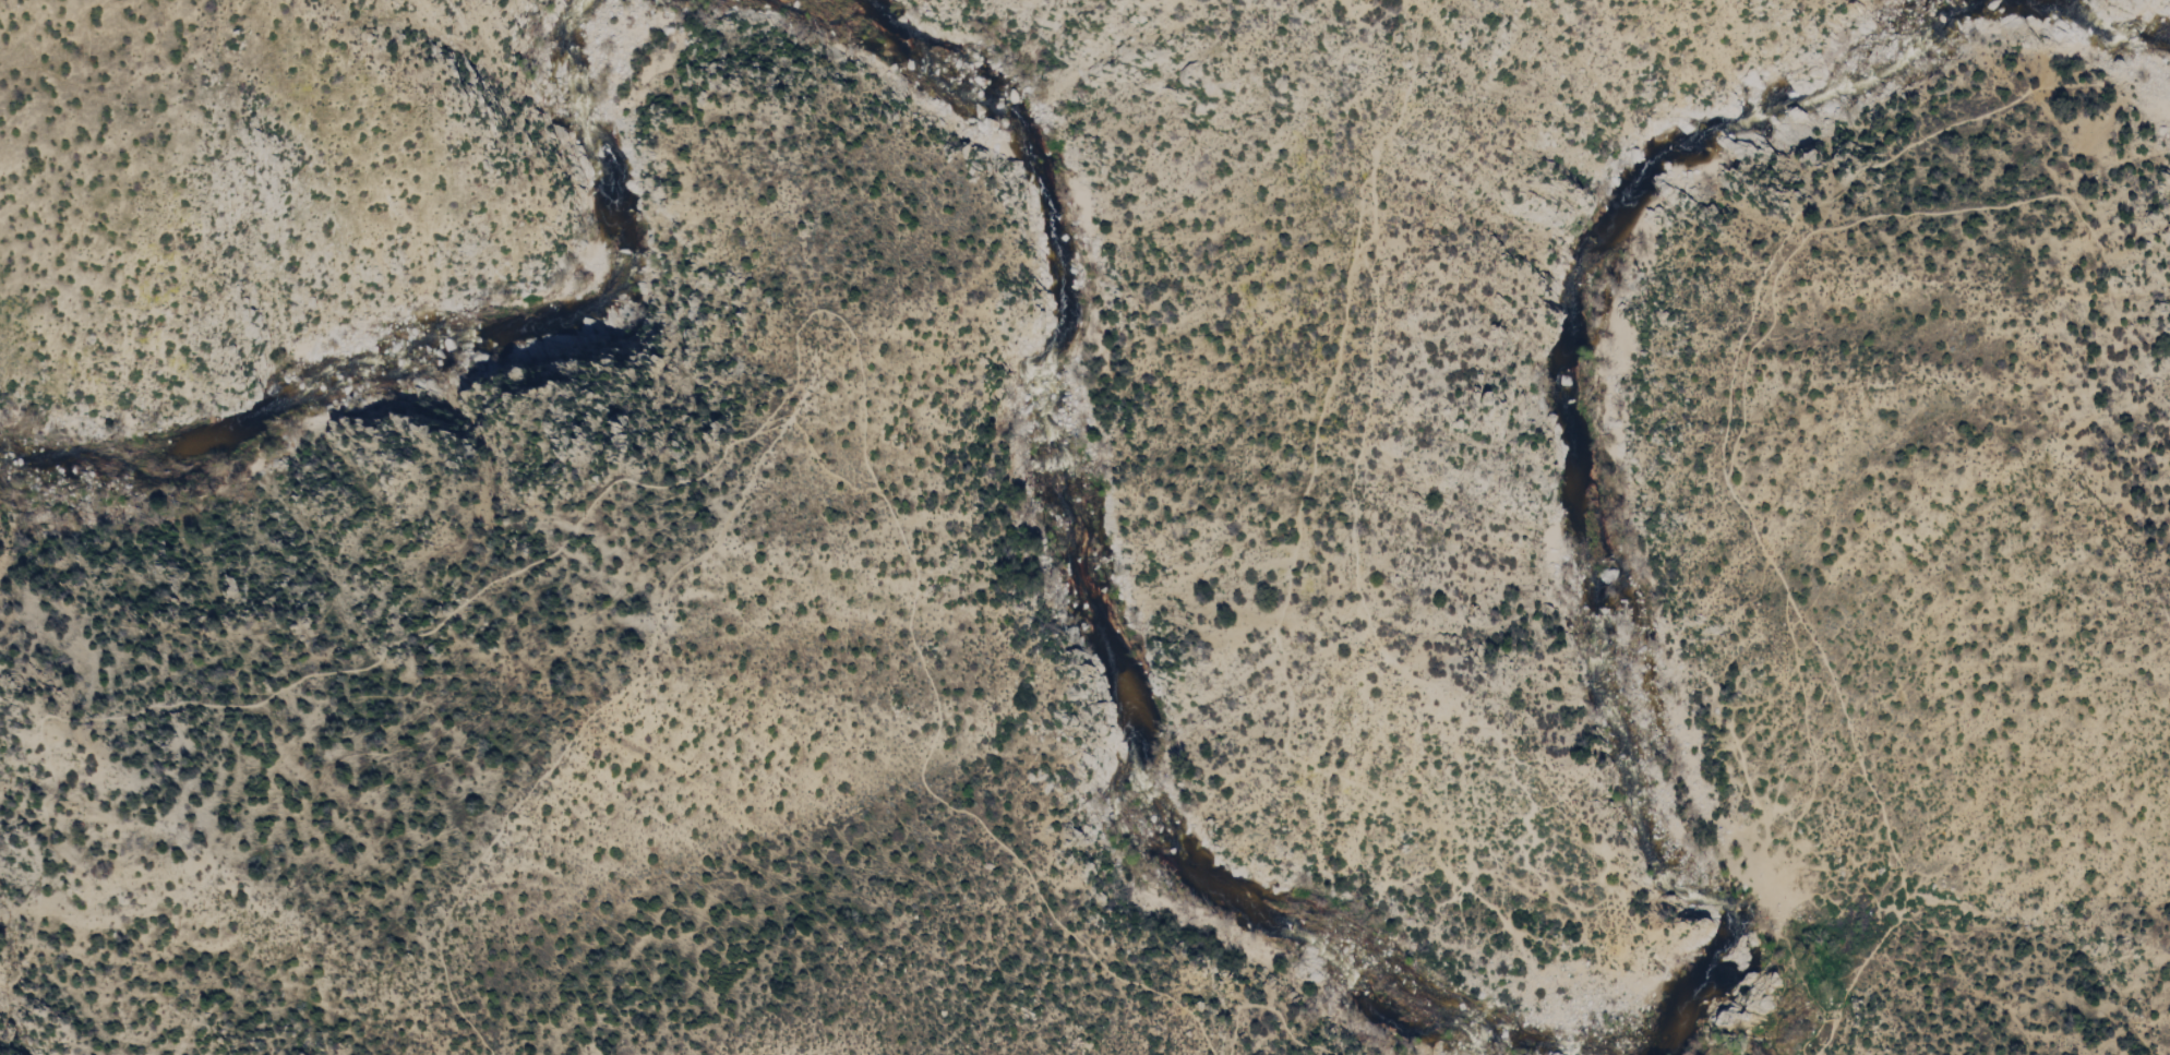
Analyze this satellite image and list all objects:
road: (1395, 65)
road: (1413, 68)
road: (1170, 201)
road: (1829, 201)
road: (1735, 420)
road: (730, 452)
road: (1278, 635)
road: (1766, 834)
road: (1843, 908)
road: (1283, 1007)
road: (1279, 1040)

